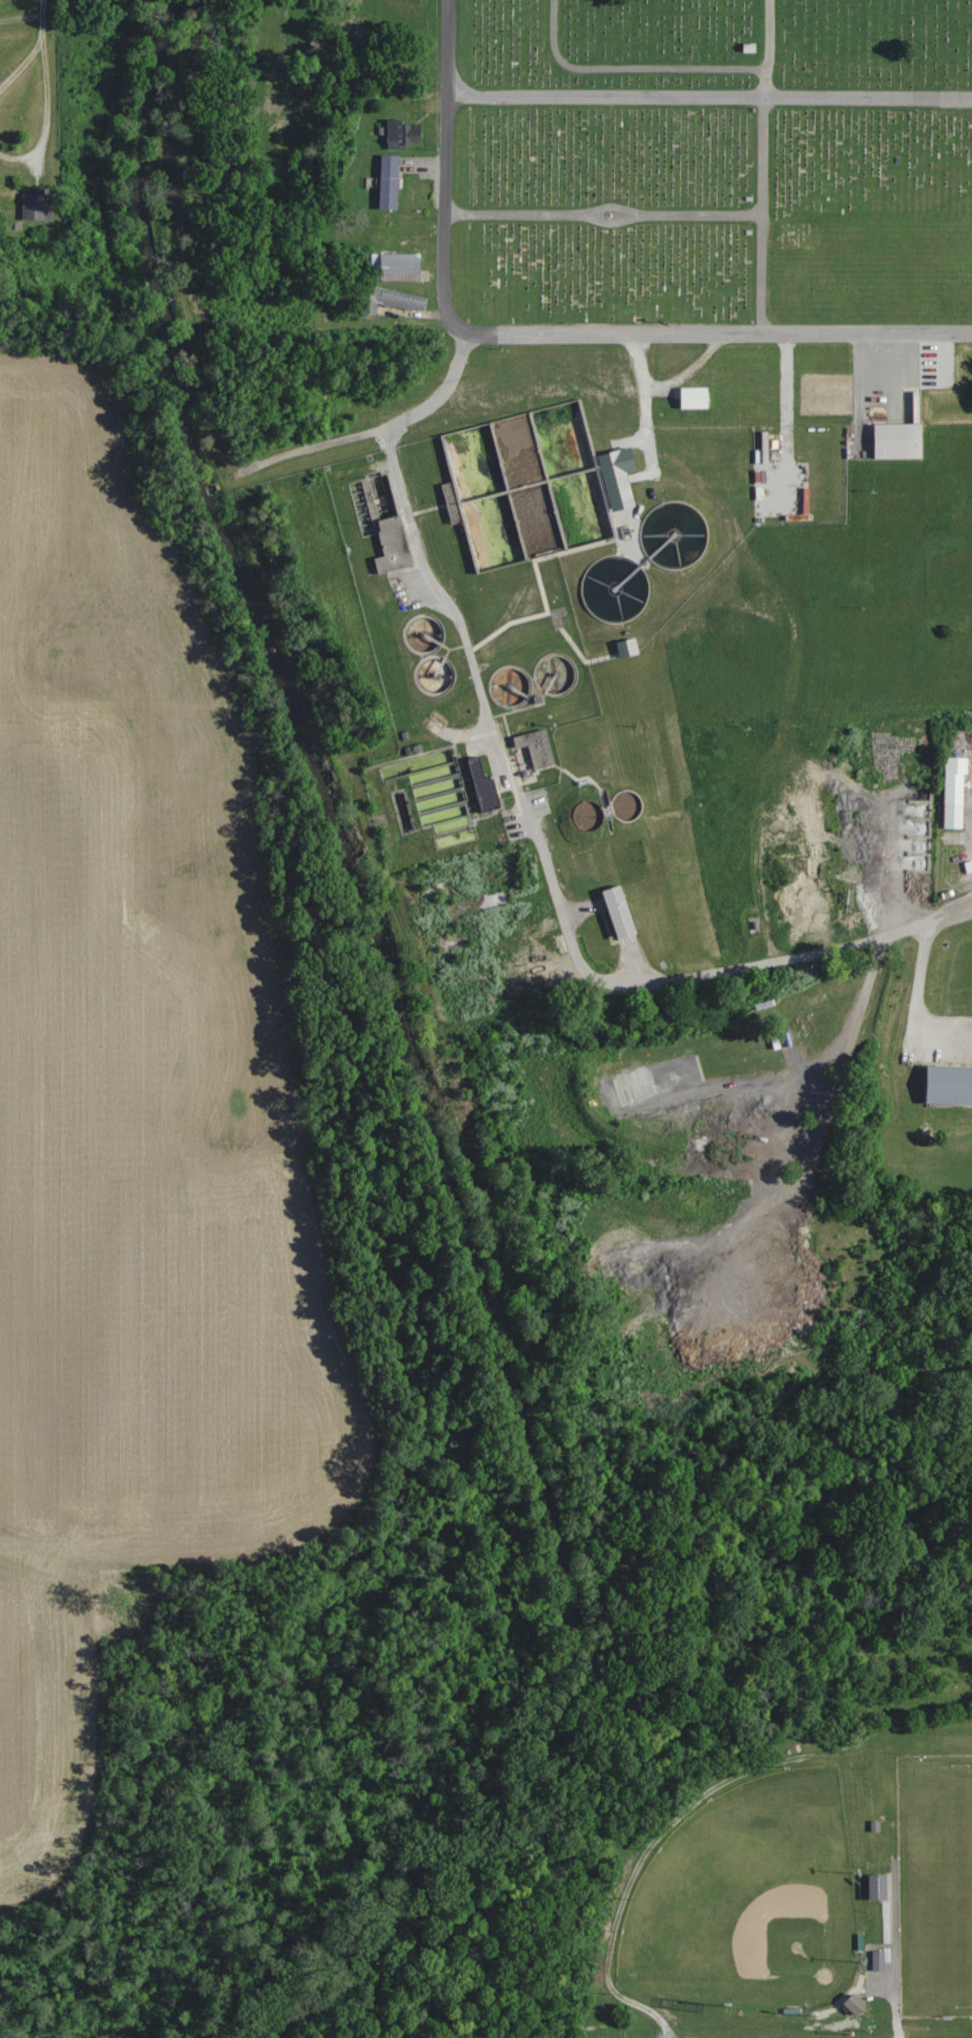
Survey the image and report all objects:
road: (43, 20)
building: (750, 48)
road: (21, 65)
road: (631, 68)
road: (709, 95)
road: (47, 114)
building: (403, 133)
road: (447, 162)
park: (711, 162)
road: (763, 165)
building: (390, 182)
building: (37, 207)
road: (604, 212)
building: (399, 267)
building: (392, 300)
road: (713, 332)
building: (694, 398)
building: (899, 440)
building: (517, 448)
building: (486, 469)
building: (394, 544)
wastewater plant: (540, 688)
building: (537, 747)
building: (484, 786)
building: (955, 792)
building: (589, 815)
road: (533, 826)
building: (620, 911)
building: (755, 924)
road: (925, 995)
river: (410, 1060)
building: (950, 1085)
building: (879, 1887)
park: (749, 1897)
building: (879, 1960)
road: (894, 1960)
building: (856, 2004)

